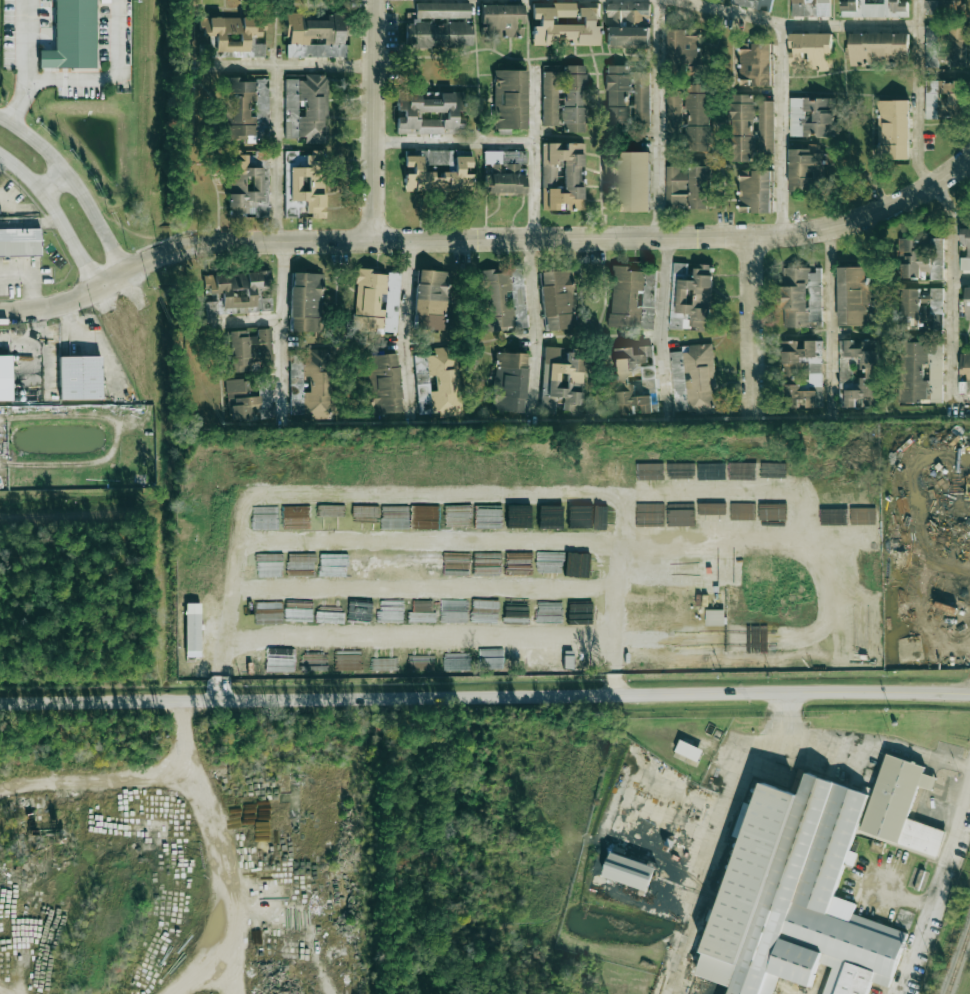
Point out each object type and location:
building: (753, 4)
building: (942, 6)
building: (811, 8)
building: (874, 8)
building: (502, 20)
building: (628, 24)
building: (440, 25)
building: (565, 25)
road: (793, 25)
building: (957, 33)
building: (235, 34)
building: (72, 36)
building: (315, 36)
road: (26, 37)
building: (935, 45)
building: (683, 47)
building: (879, 49)
building: (810, 51)
road: (294, 63)
building: (756, 65)
road: (107, 76)
road: (916, 94)
building: (627, 96)
road: (23, 97)
building: (550, 98)
building: (574, 98)
building: (510, 99)
building: (944, 99)
building: (306, 108)
building: (245, 109)
building: (430, 112)
building: (672, 113)
building: (812, 117)
road: (657, 118)
building: (697, 118)
road: (372, 119)
building: (741, 127)
building: (765, 128)
road: (781, 129)
building: (893, 129)
road: (453, 141)
road: (534, 151)
building: (805, 168)
building: (505, 172)
building: (419, 173)
building: (562, 176)
road: (76, 179)
building: (633, 181)
road: (57, 183)
building: (304, 183)
building: (246, 187)
building: (687, 187)
building: (755, 191)
road: (58, 213)
road: (865, 215)
road: (419, 238)
building: (20, 244)
road: (281, 244)
building: (968, 251)
building: (921, 258)
road: (29, 277)
road: (960, 279)
building: (238, 292)
building: (801, 296)
building: (853, 296)
building: (624, 297)
building: (691, 297)
building: (647, 298)
building: (431, 299)
road: (950, 299)
building: (503, 300)
building: (557, 300)
building: (306, 302)
building: (376, 302)
building: (922, 302)
building: (967, 303)
road: (51, 304)
road: (831, 319)
building: (936, 321)
road: (247, 322)
road: (749, 325)
road: (406, 326)
road: (535, 326)
road: (660, 326)
road: (91, 347)
building: (247, 348)
building: (791, 363)
building: (862, 372)
building: (920, 373)
building: (964, 373)
building: (6, 378)
building: (79, 378)
building: (630, 379)
building: (694, 379)
building: (562, 380)
building: (437, 382)
building: (509, 382)
building: (311, 384)
building: (383, 384)
building: (798, 396)
building: (239, 401)
building: (649, 471)
building: (550, 512)
building: (580, 517)
building: (577, 564)
building: (193, 629)
building: (705, 633)
road: (485, 695)
road: (178, 733)
building: (688, 753)
road: (962, 766)
road: (969, 766)
road: (90, 781)
building: (901, 807)
building: (630, 872)
road: (232, 885)
railway: (786, 889)
railway: (751, 896)
building: (797, 898)
railway: (959, 964)
road: (0, 993)

